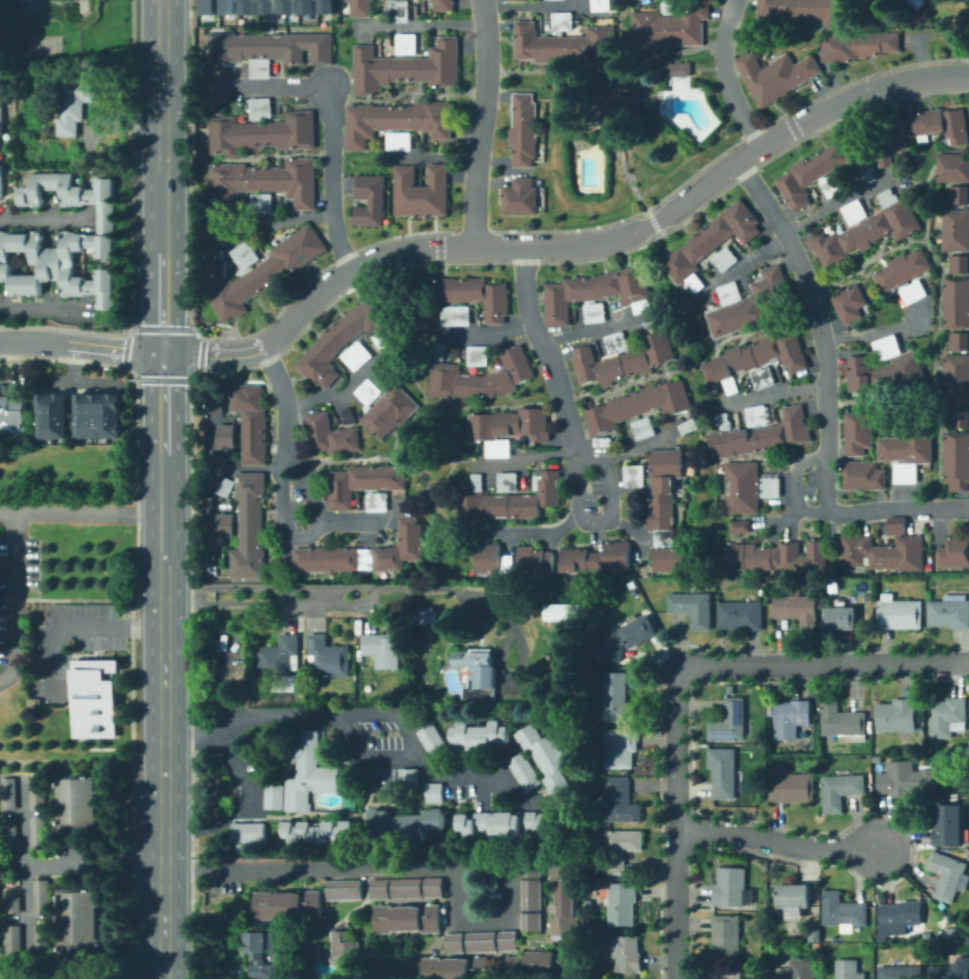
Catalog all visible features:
building: (518, 0)
building: (635, 0)
road: (27, 4)
road: (532, 4)
building: (916, 4)
building: (601, 5)
building: (207, 6)
building: (228, 6)
building: (267, 6)
building: (287, 6)
building: (306, 6)
building: (326, 6)
building: (444, 6)
building: (247, 7)
building: (668, 7)
building: (360, 8)
building: (400, 11)
building: (809, 11)
building: (563, 21)
road: (419, 25)
building: (669, 28)
building: (563, 43)
building: (407, 44)
park: (39, 45)
building: (859, 45)
building: (271, 49)
building: (677, 67)
building: (406, 68)
road: (725, 75)
building: (777, 76)
road: (277, 85)
building: (219, 93)
building: (75, 104)
building: (615, 106)
building: (2, 111)
road: (672, 113)
building: (397, 121)
road: (479, 122)
building: (263, 130)
building: (524, 130)
building: (924, 131)
building: (399, 141)
road: (594, 168)
building: (822, 168)
building: (953, 168)
building: (870, 172)
road: (329, 178)
building: (1, 181)
building: (264, 184)
building: (833, 185)
building: (422, 191)
building: (959, 195)
building: (521, 197)
building: (371, 199)
road: (836, 200)
building: (855, 212)
road: (276, 219)
road: (46, 221)
building: (955, 229)
building: (868, 231)
building: (64, 242)
building: (711, 242)
road: (569, 245)
road: (949, 252)
building: (245, 255)
building: (725, 258)
road: (745, 261)
building: (959, 264)
building: (216, 269)
building: (902, 270)
building: (268, 272)
building: (443, 289)
building: (470, 289)
building: (596, 292)
building: (914, 292)
building: (494, 302)
building: (748, 303)
building: (956, 303)
building: (850, 304)
road: (46, 309)
building: (596, 313)
building: (453, 315)
road: (593, 329)
road: (874, 330)
road: (484, 334)
road: (742, 334)
building: (341, 340)
building: (380, 340)
building: (959, 341)
building: (617, 343)
road: (80, 345)
building: (888, 348)
road: (544, 350)
building: (441, 351)
traffic signals: (161, 352)
building: (478, 355)
building: (356, 356)
building: (627, 358)
building: (756, 359)
building: (886, 375)
building: (763, 377)
building: (481, 378)
building: (956, 380)
road: (338, 392)
building: (368, 392)
road: (772, 392)
road: (826, 393)
road: (280, 395)
building: (222, 403)
building: (638, 406)
building: (13, 410)
building: (56, 410)
building: (101, 411)
building: (390, 411)
building: (757, 414)
building: (349, 417)
road: (162, 418)
building: (959, 418)
building: (726, 422)
building: (252, 423)
building: (689, 426)
building: (509, 428)
building: (644, 428)
building: (859, 433)
building: (331, 435)
building: (229, 436)
building: (762, 436)
building: (603, 442)
road: (214, 446)
road: (636, 448)
building: (908, 451)
road: (523, 458)
building: (957, 461)
road: (220, 472)
building: (634, 476)
building: (864, 476)
building: (508, 482)
building: (363, 483)
building: (226, 487)
building: (742, 487)
building: (771, 487)
road: (592, 493)
road: (796, 493)
building: (664, 494)
road: (294, 500)
parking lot: (296, 500)
building: (509, 500)
building: (377, 502)
road: (815, 510)
road: (81, 513)
road: (602, 520)
road: (348, 521)
building: (226, 525)
building: (250, 526)
building: (741, 527)
road: (632, 529)
road: (539, 531)
road: (300, 536)
building: (885, 550)
building: (955, 552)
building: (364, 554)
building: (774, 556)
building: (489, 558)
building: (598, 559)
building: (669, 559)
building: (535, 560)
building: (215, 564)
building: (507, 564)
road: (432, 588)
road: (178, 592)
building: (130, 593)
road: (287, 594)
road: (316, 595)
road: (15, 599)
building: (537, 599)
road: (287, 603)
building: (693, 609)
building: (799, 610)
building: (564, 612)
building: (949, 612)
building: (900, 614)
building: (425, 616)
building: (742, 616)
building: (841, 619)
road: (145, 628)
building: (639, 630)
road: (57, 631)
building: (382, 649)
building: (278, 657)
building: (329, 657)
road: (221, 660)
road: (824, 663)
building: (478, 673)
building: (96, 697)
building: (617, 698)
building: (770, 711)
road: (388, 713)
building: (897, 716)
building: (948, 717)
building: (791, 718)
building: (732, 722)
building: (844, 723)
parking lot: (377, 733)
building: (481, 736)
road: (351, 739)
building: (431, 739)
building: (621, 748)
building: (547, 755)
building: (306, 770)
building: (522, 770)
building: (723, 772)
parking lot: (381, 774)
building: (407, 775)
building: (901, 782)
road: (245, 783)
building: (792, 788)
parking lot: (458, 790)
building: (433, 791)
building: (841, 791)
building: (38, 793)
building: (9, 794)
building: (273, 795)
parking lot: (497, 796)
building: (622, 801)
building: (78, 803)
road: (675, 822)
building: (507, 824)
building: (408, 825)
building: (950, 825)
building: (246, 831)
building: (39, 832)
building: (319, 832)
building: (10, 833)
road: (773, 840)
building: (622, 848)
road: (163, 852)
road: (81, 866)
road: (410, 868)
building: (530, 868)
road: (25, 870)
building: (947, 875)
building: (432, 886)
building: (378, 887)
building: (405, 887)
building: (731, 887)
building: (342, 888)
building: (530, 893)
building: (794, 896)
building: (42, 897)
building: (566, 898)
building: (623, 903)
building: (288, 904)
building: (13, 906)
building: (844, 912)
building: (405, 917)
building: (901, 917)
building: (531, 920)
building: (944, 921)
building: (80, 922)
road: (163, 923)
building: (591, 933)
building: (727, 937)
building: (507, 939)
building: (480, 940)
building: (42, 941)
building: (453, 941)
building: (14, 942)
building: (342, 943)
building: (625, 952)
building: (260, 953)
building: (913, 956)
building: (939, 959)
building: (538, 960)
building: (459, 968)
building: (799, 969)
building: (849, 969)
building: (952, 970)
building: (901, 972)
building: (736, 977)

